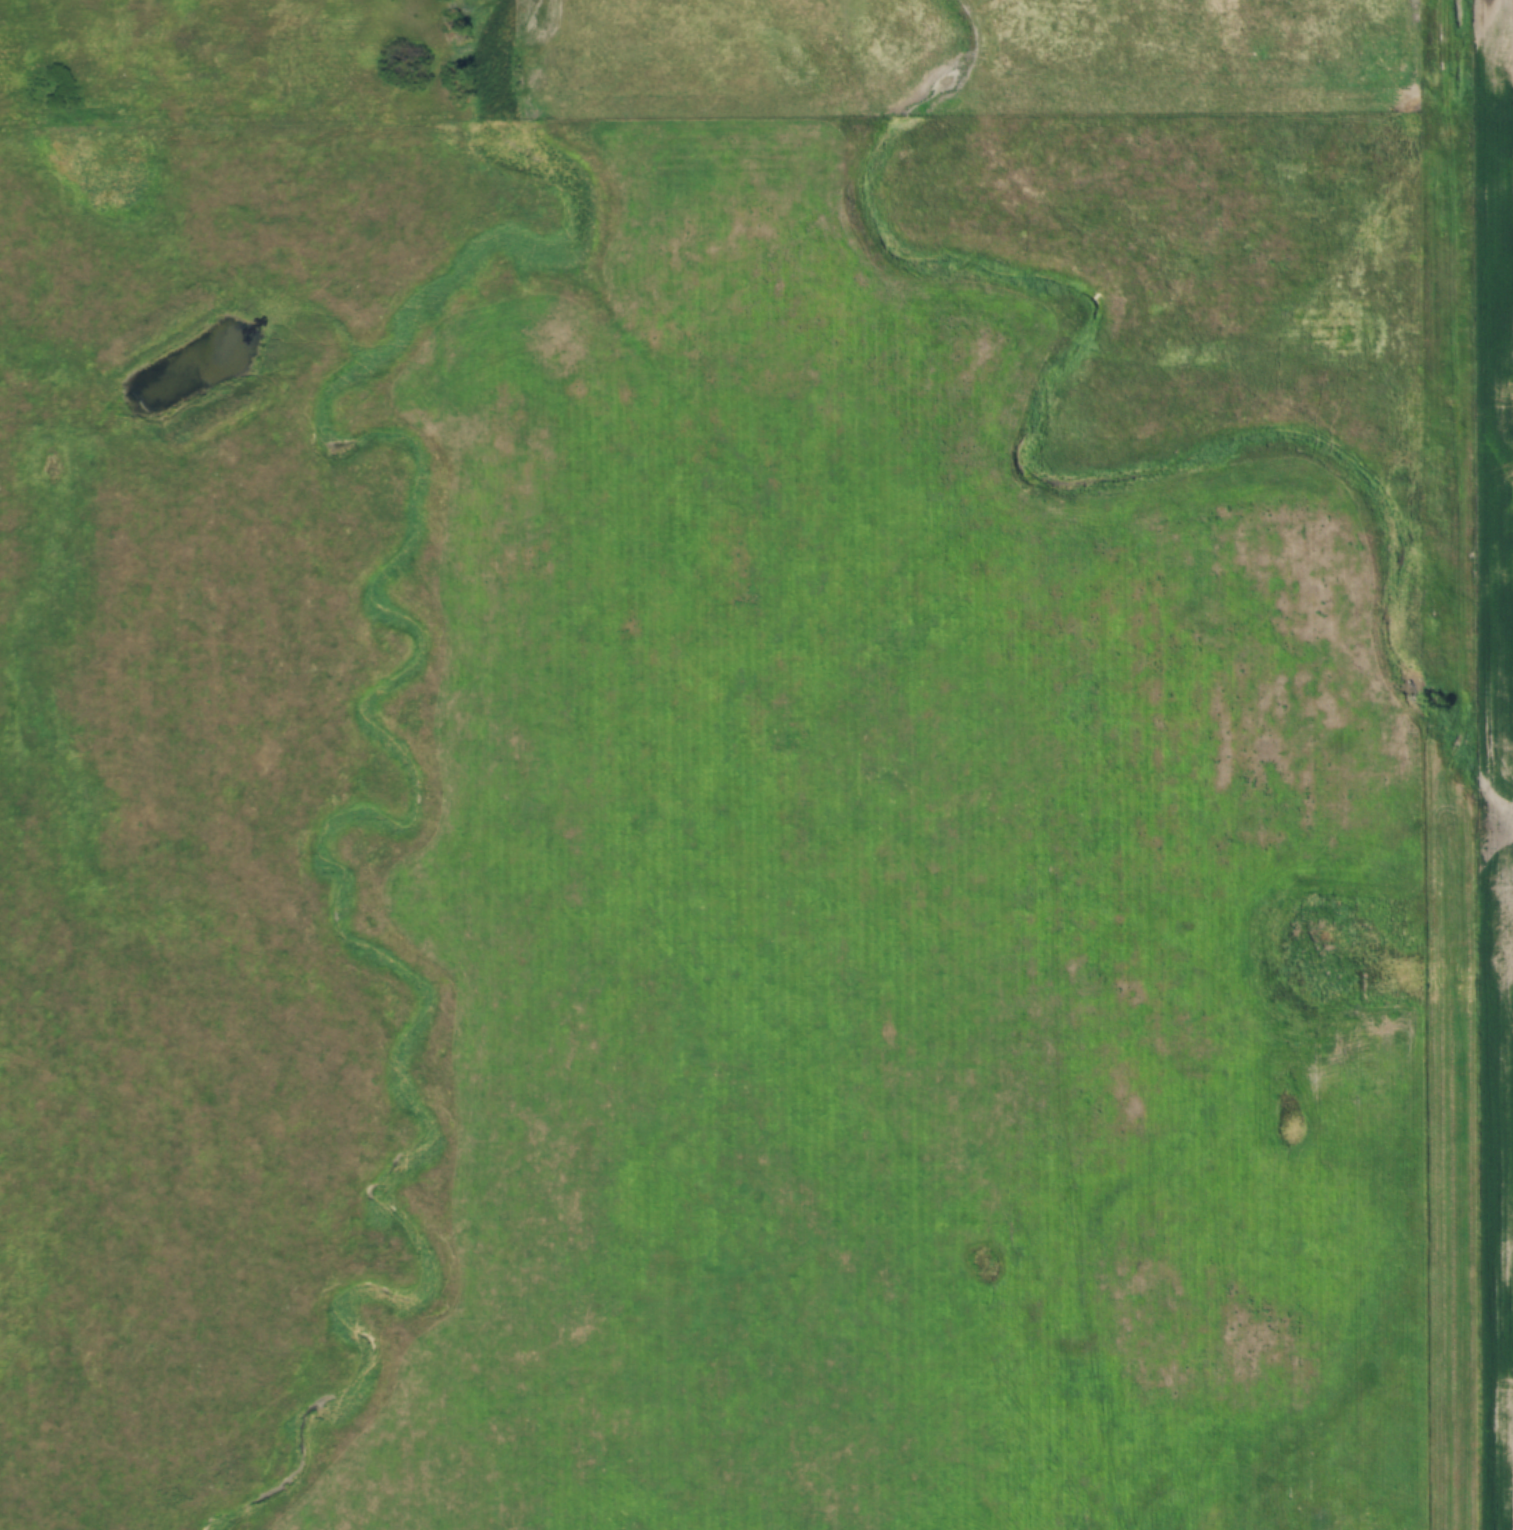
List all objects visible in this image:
road: (1447, 765)

